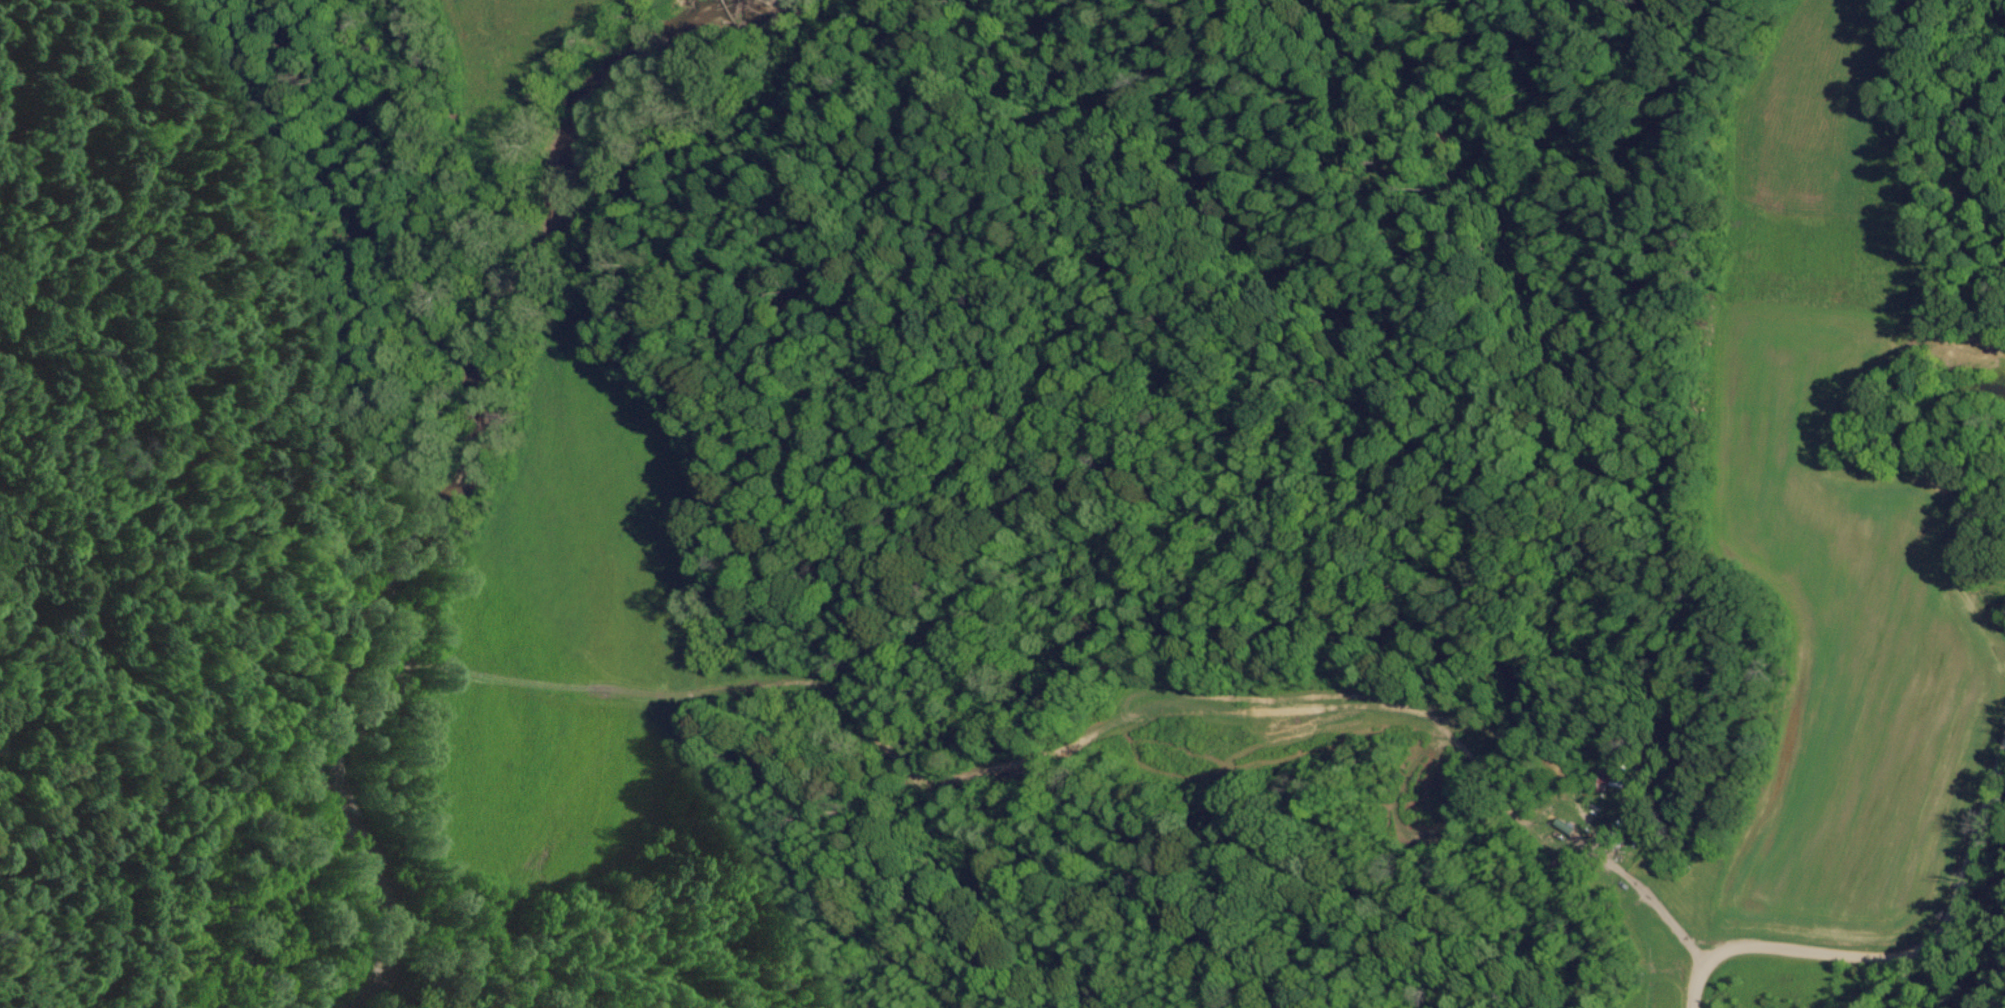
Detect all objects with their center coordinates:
road: (1660, 909)
road: (1896, 952)

